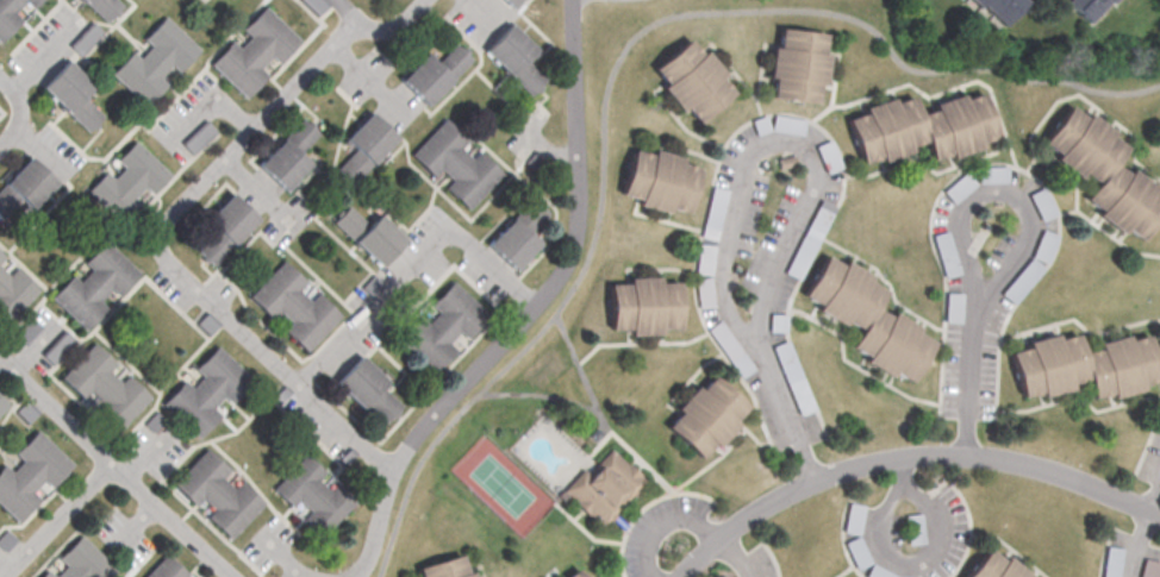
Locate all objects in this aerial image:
building: (1109, 0)
building: (509, 2)
road: (476, 6)
building: (1087, 6)
building: (1000, 7)
building: (101, 8)
road: (345, 10)
building: (10, 13)
road: (392, 24)
building: (252, 52)
building: (516, 57)
building: (154, 61)
road: (616, 61)
building: (797, 65)
building: (432, 75)
road: (369, 80)
building: (692, 81)
building: (70, 96)
road: (210, 99)
road: (17, 112)
building: (921, 128)
building: (199, 136)
road: (780, 136)
building: (363, 146)
building: (287, 157)
building: (454, 163)
building: (1102, 173)
building: (126, 182)
building: (659, 182)
road: (247, 183)
building: (23, 187)
road: (1000, 189)
building: (224, 228)
building: (369, 233)
building: (517, 236)
road: (467, 253)
road: (163, 256)
building: (0, 258)
building: (94, 284)
building: (12, 294)
building: (292, 306)
building: (642, 307)
road: (526, 312)
building: (865, 319)
building: (442, 327)
road: (355, 330)
road: (654, 341)
building: (51, 352)
road: (578, 362)
building: (1083, 366)
road: (973, 369)
building: (102, 388)
building: (366, 390)
building: (205, 393)
building: (1, 406)
road: (786, 407)
building: (706, 415)
road: (601, 418)
road: (906, 456)
road: (144, 457)
road: (114, 468)
road: (904, 471)
building: (29, 475)
park: (504, 485)
road: (906, 487)
building: (605, 488)
building: (216, 494)
building: (311, 496)
road: (1156, 501)
road: (57, 520)
road: (667, 523)
road: (1140, 544)
road: (277, 553)
road: (737, 557)
building: (81, 562)
building: (993, 567)
building: (164, 569)
building: (444, 570)
building: (1111, 571)
road: (295, 573)
building: (574, 573)
building: (45, 575)
building: (559, 576)

